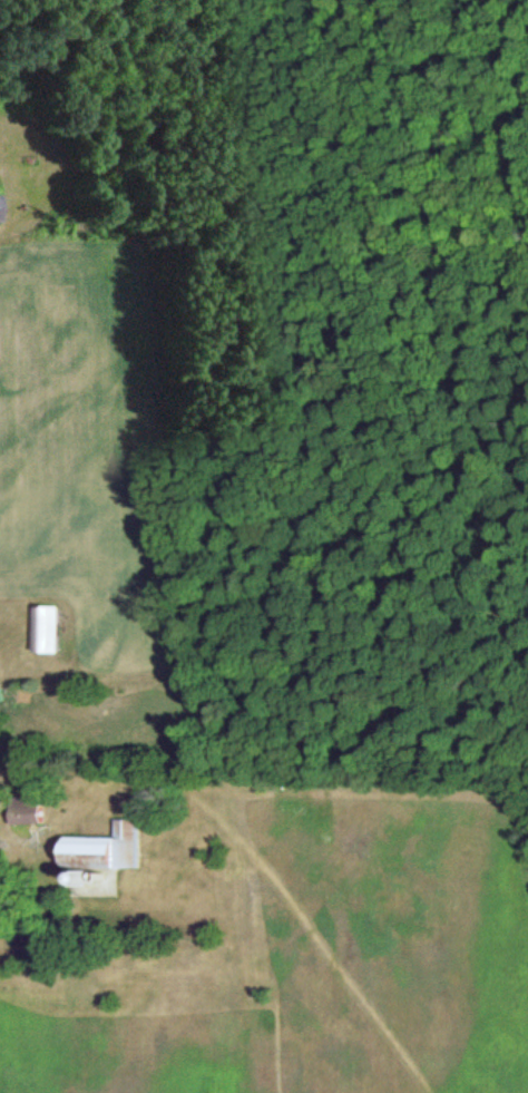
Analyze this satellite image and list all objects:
building: (49, 628)
building: (106, 849)

